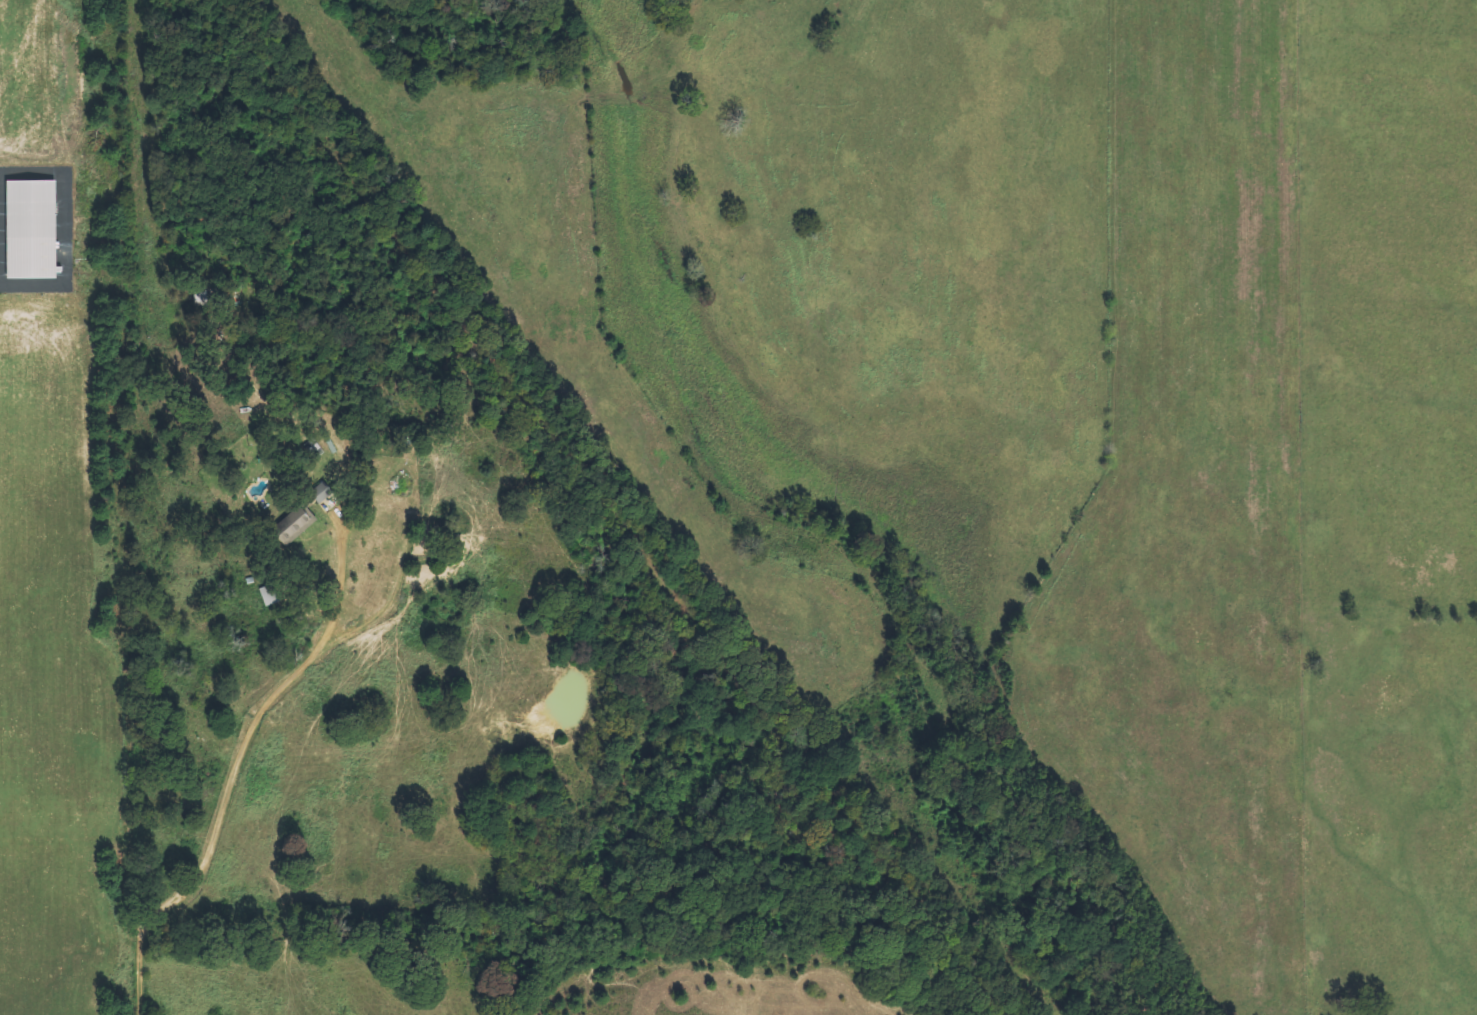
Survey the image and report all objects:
building: (32, 229)
building: (323, 492)
building: (299, 526)

